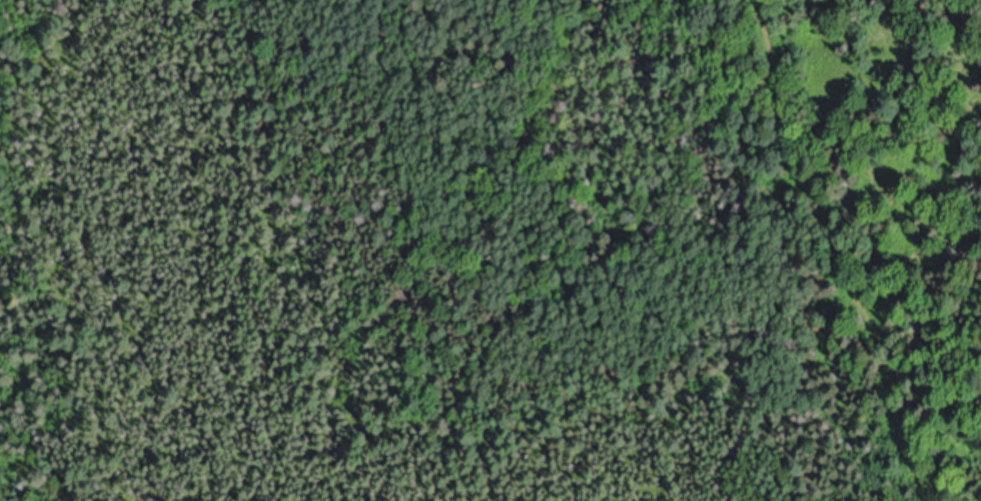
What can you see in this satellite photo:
road: (845, 261)

